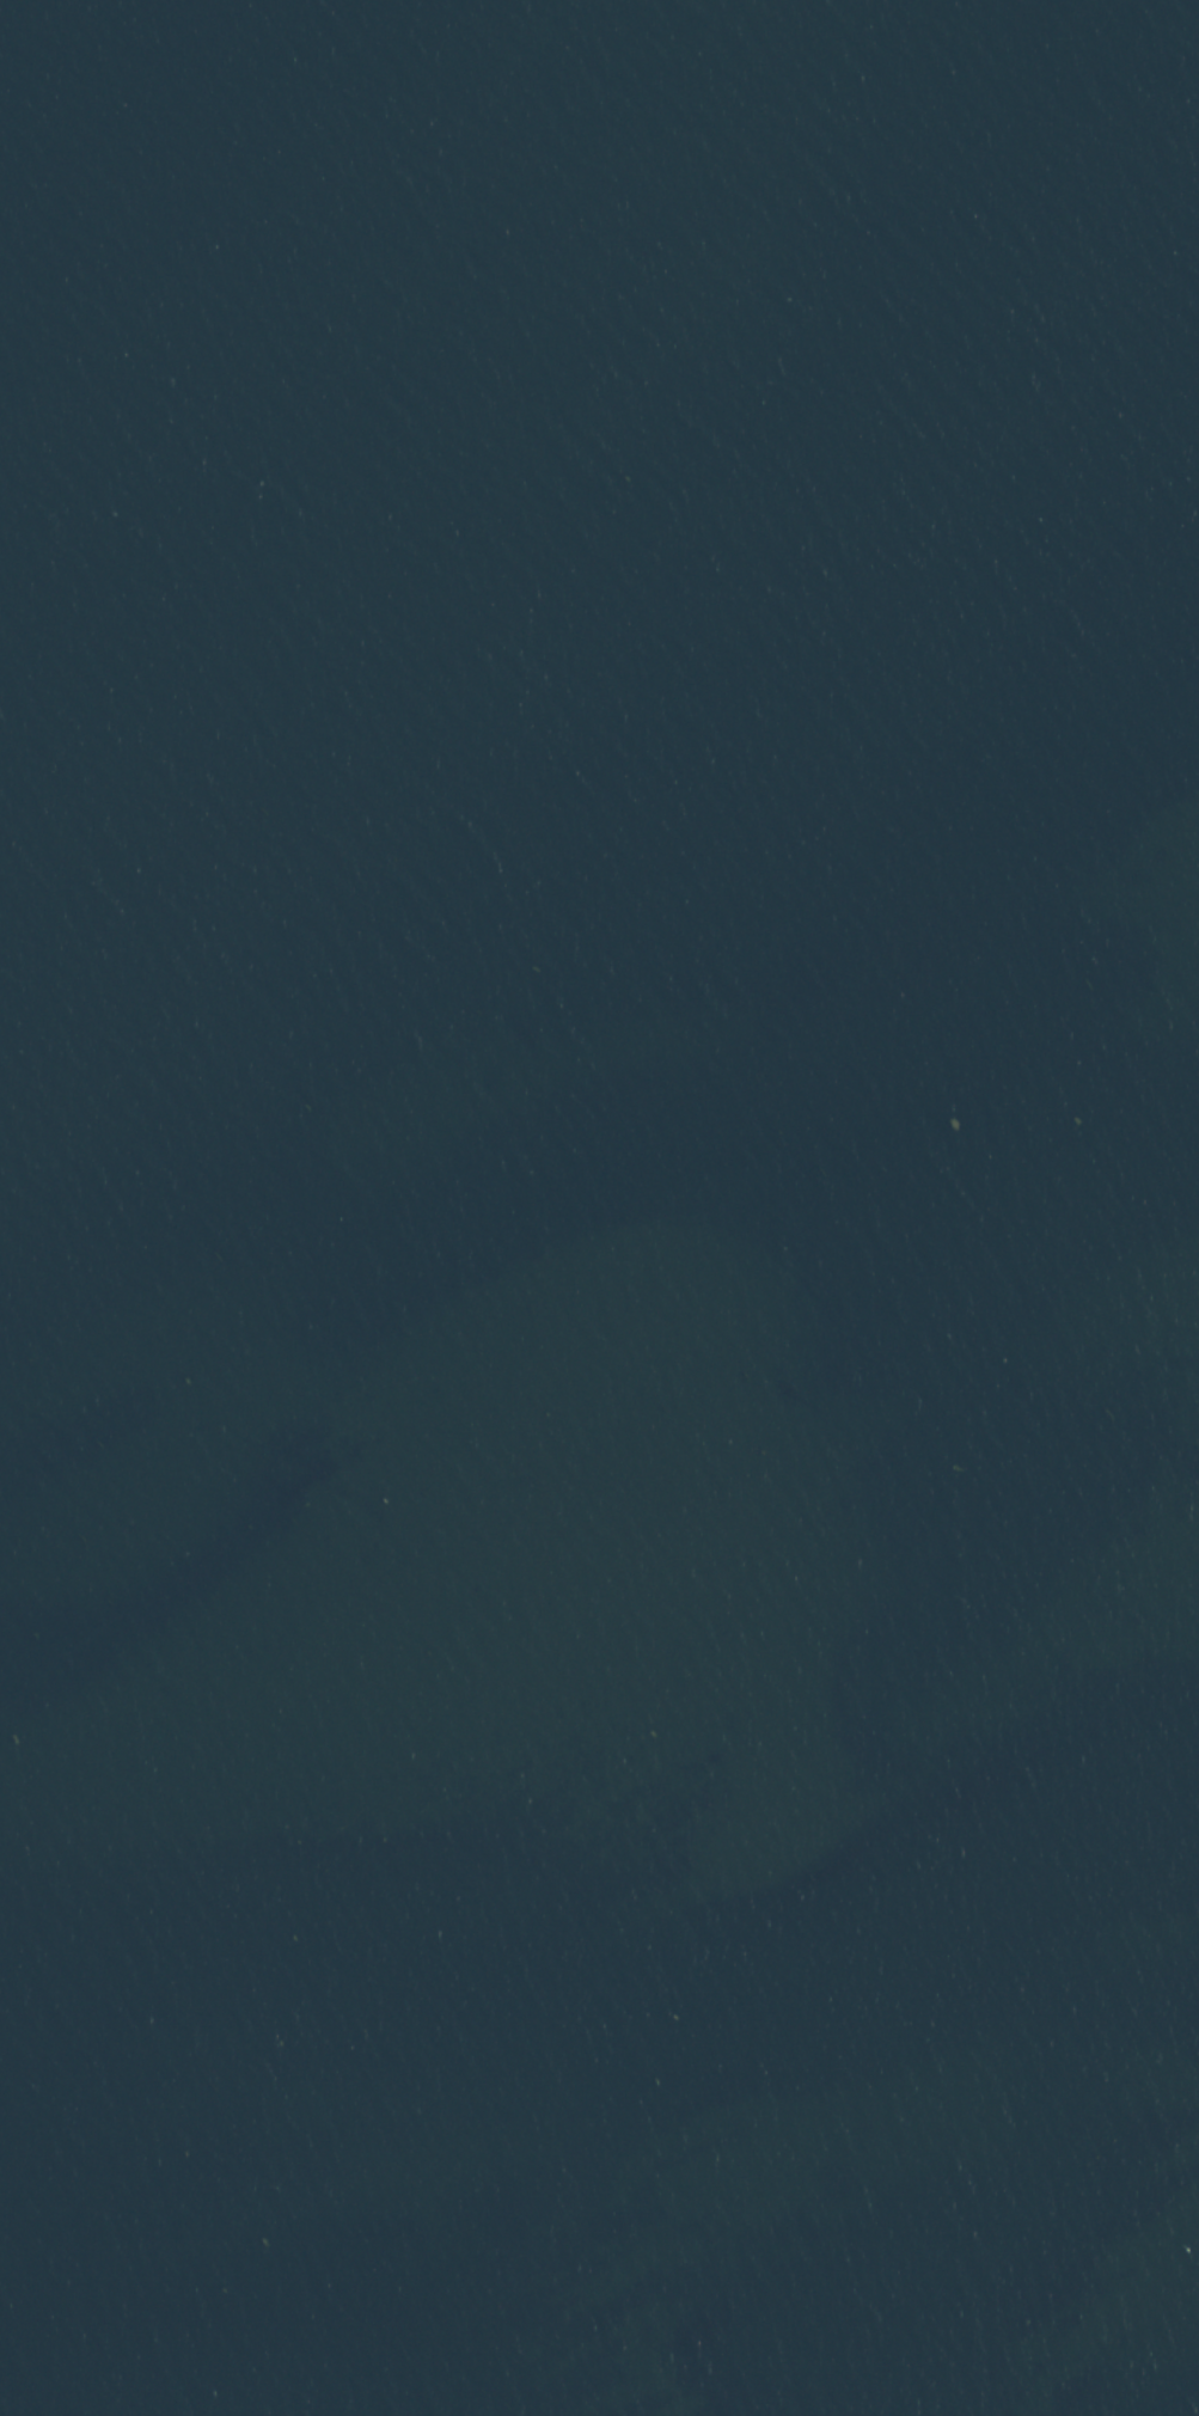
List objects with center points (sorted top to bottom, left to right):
river: (1177, 2405)

